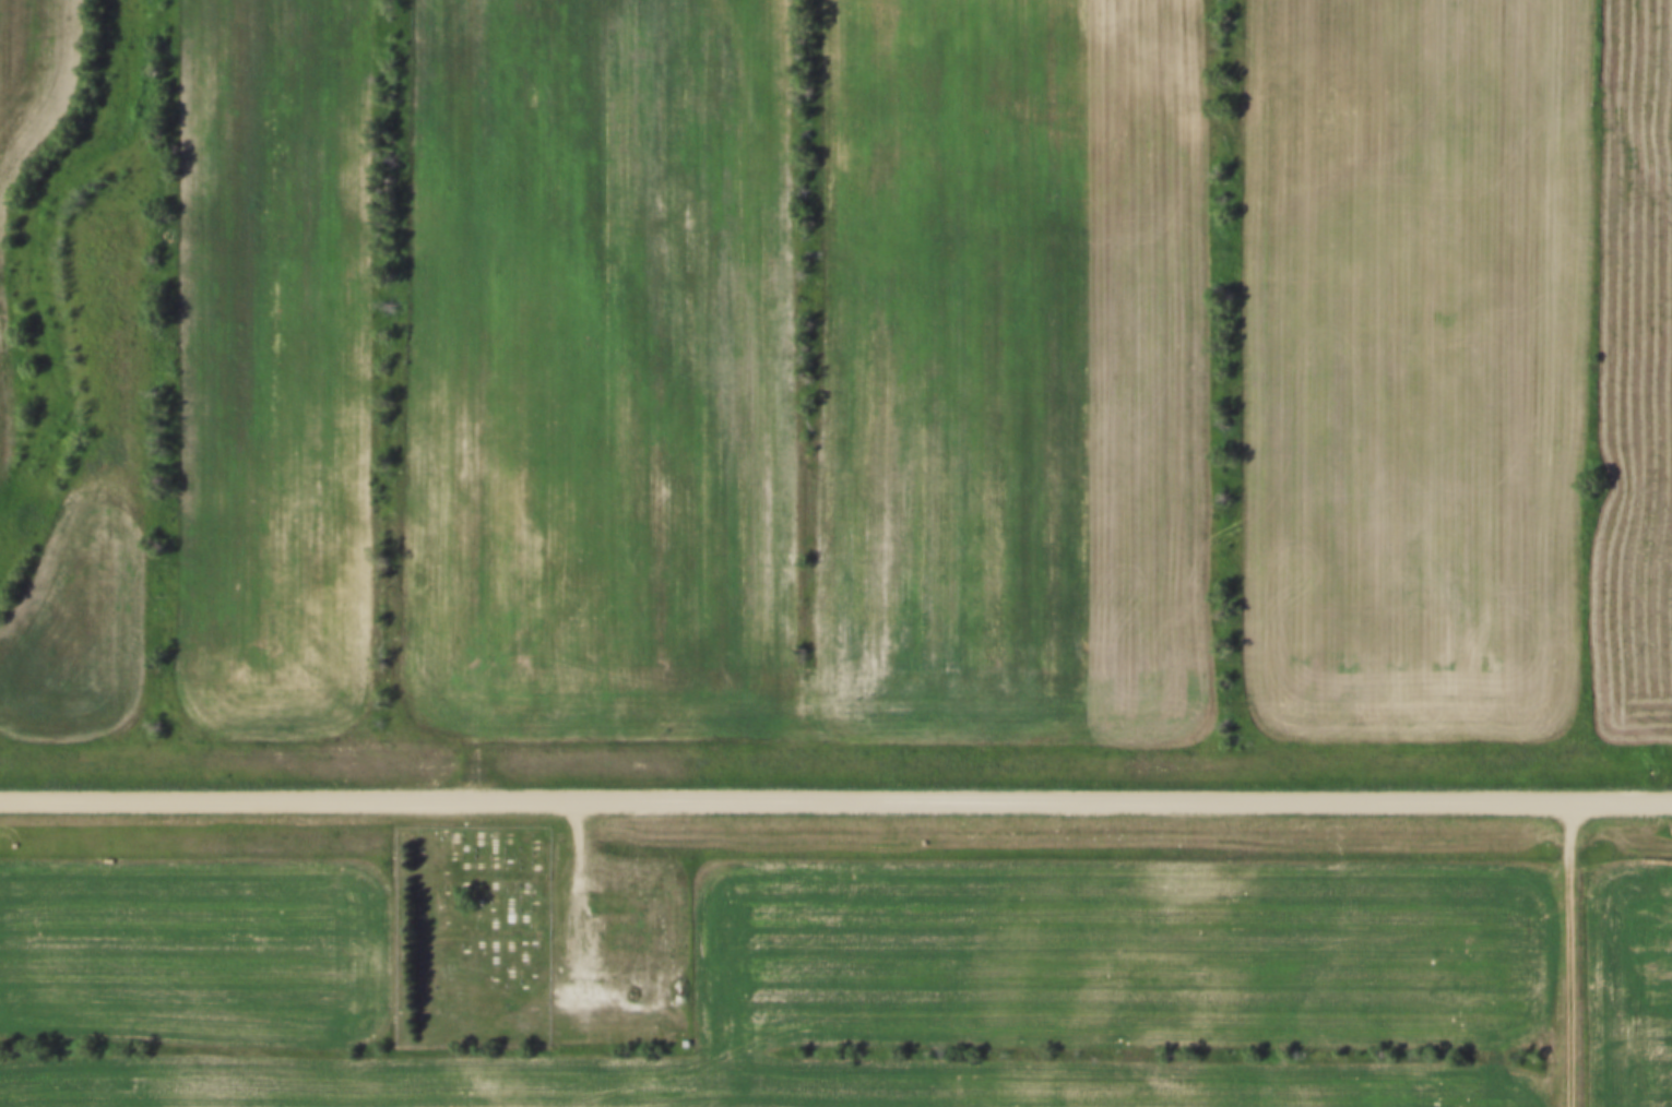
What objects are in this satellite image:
road: (835, 798)
road: (582, 888)
road: (1574, 953)

